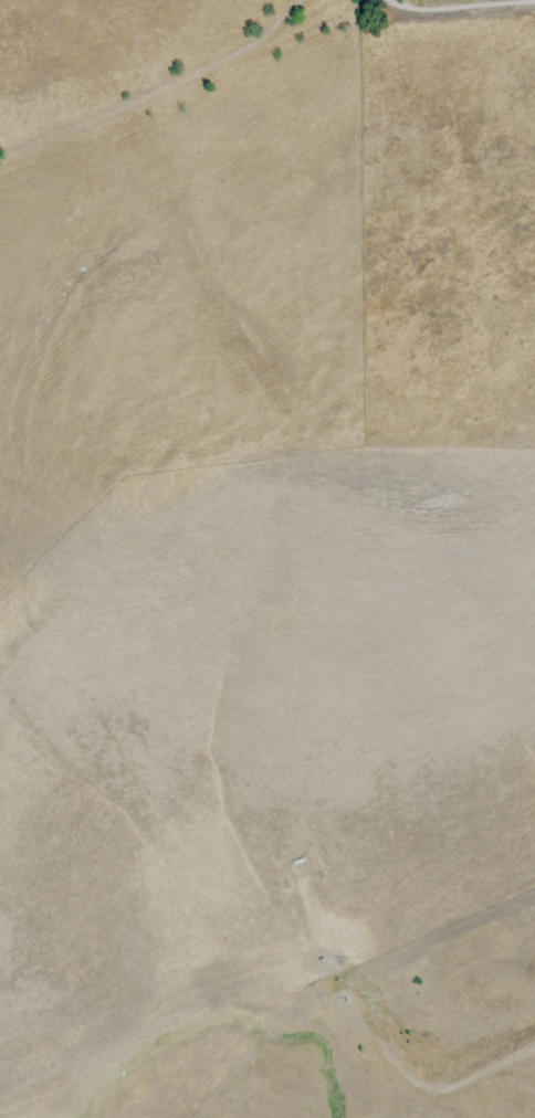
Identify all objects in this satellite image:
road: (459, 6)
road: (155, 84)
park: (442, 226)
park: (239, 612)

